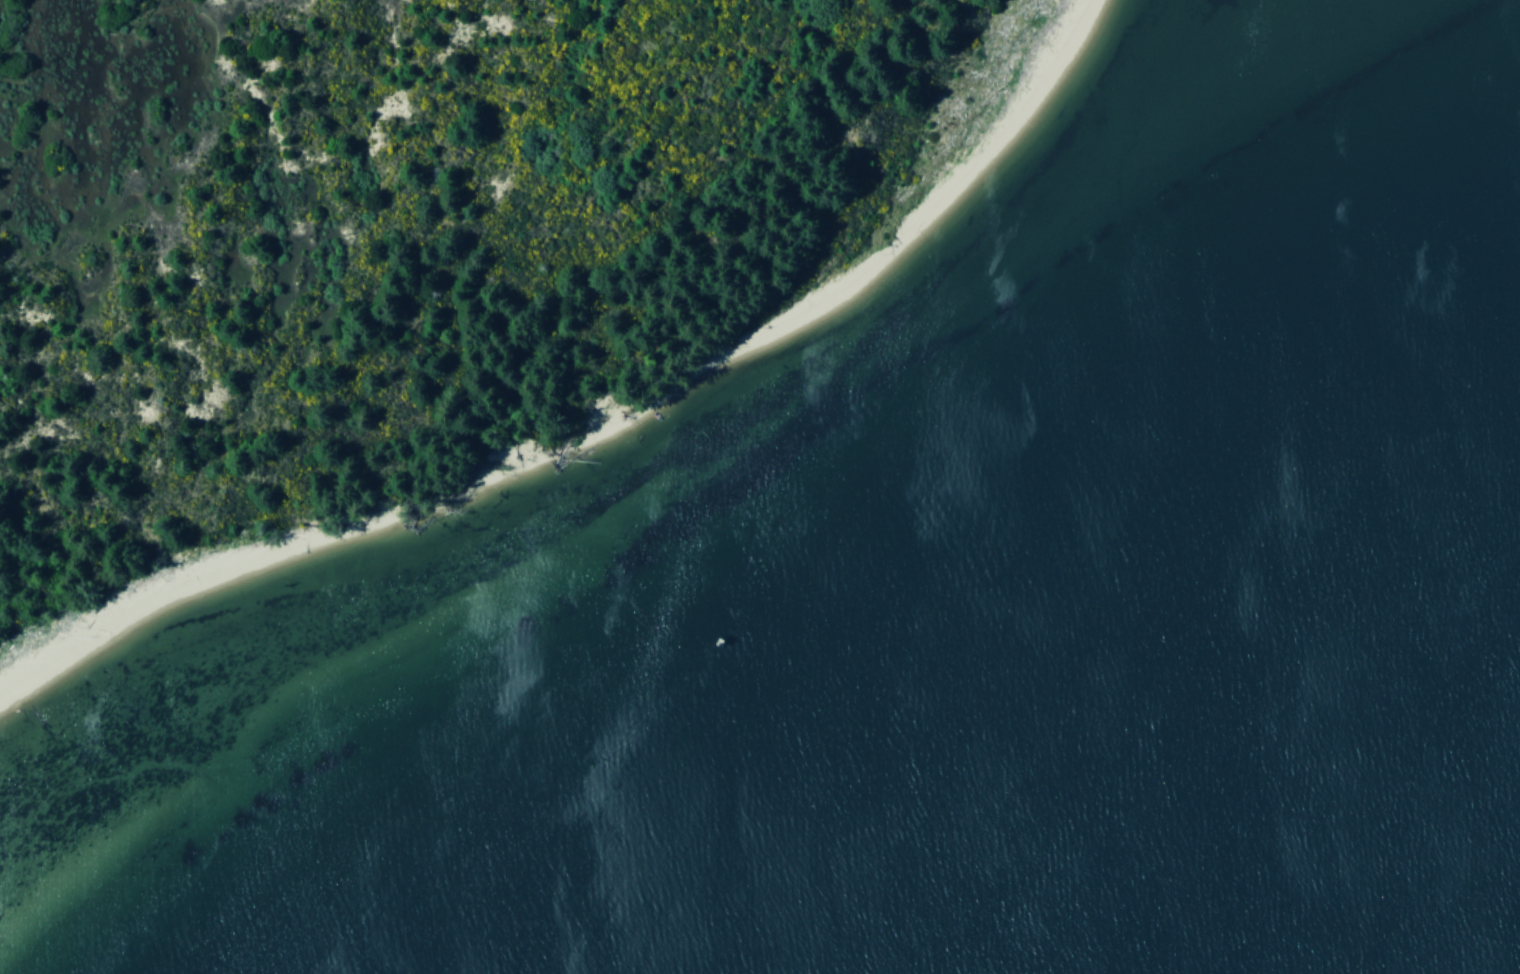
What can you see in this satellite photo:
river: (1427, 906)

